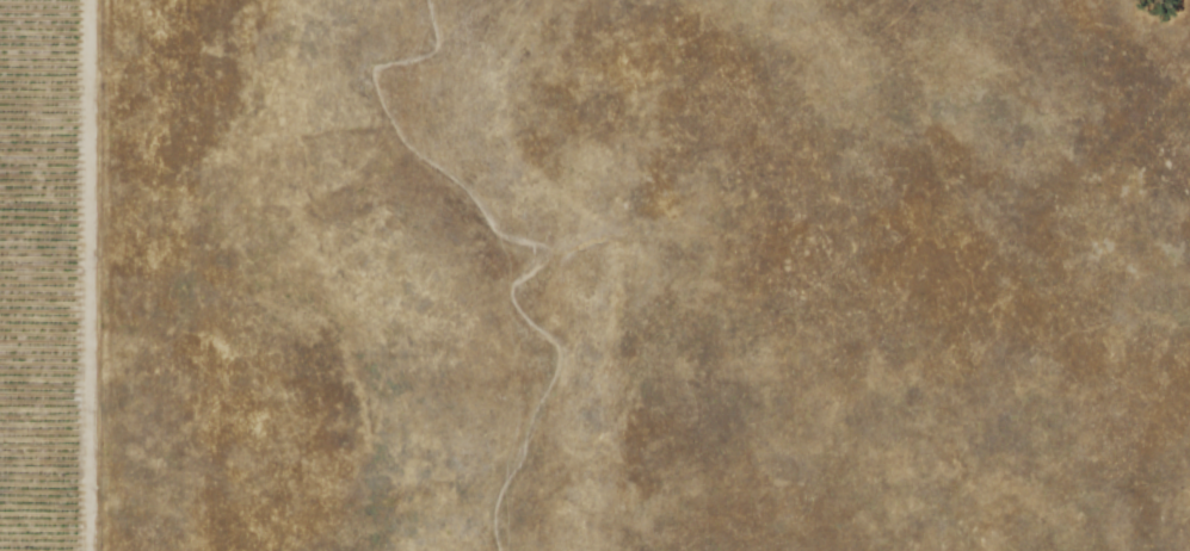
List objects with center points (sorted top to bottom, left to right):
road: (94, 275)

